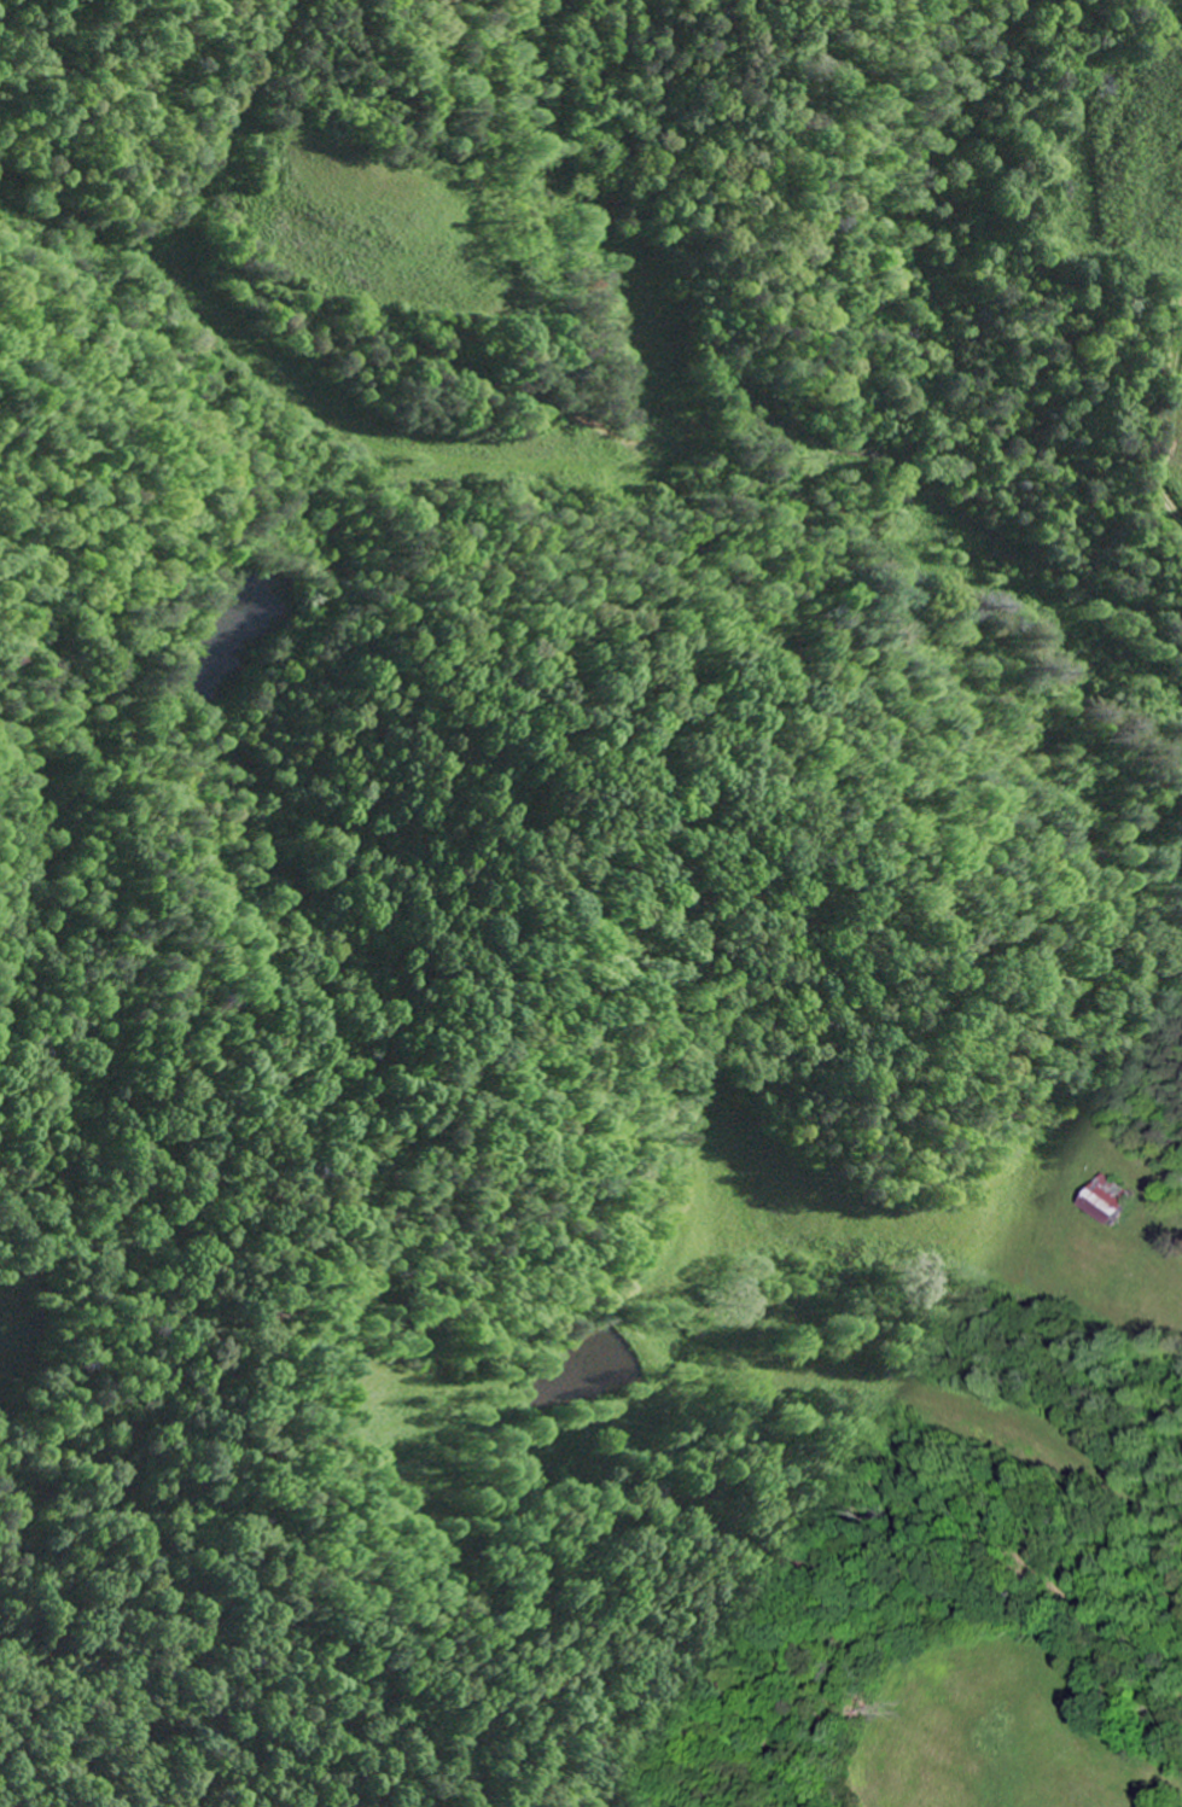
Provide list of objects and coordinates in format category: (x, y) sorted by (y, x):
building: (1113, 1201)

